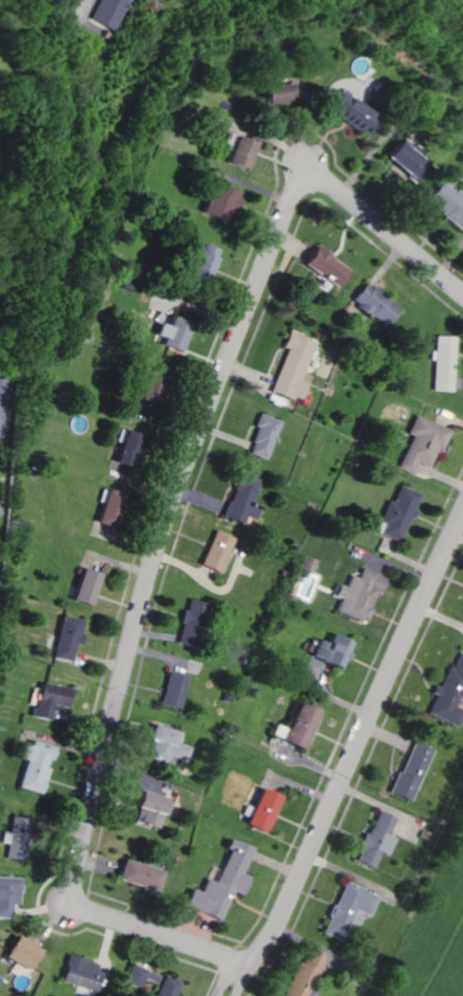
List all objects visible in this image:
building: (110, 13)
building: (274, 91)
building: (346, 110)
building: (240, 152)
building: (400, 159)
building: (220, 200)
building: (444, 203)
road: (399, 237)
building: (203, 261)
building: (323, 266)
building: (372, 304)
building: (171, 333)
building: (441, 362)
building: (291, 366)
building: (150, 383)
building: (263, 436)
building: (418, 443)
building: (125, 448)
building: (239, 497)
building: (106, 508)
building: (395, 513)
building: (213, 551)
building: (305, 564)
building: (83, 586)
building: (357, 594)
road: (139, 605)
building: (188, 620)
building: (64, 637)
building: (329, 651)
building: (169, 690)
building: (448, 693)
building: (47, 700)
building: (298, 726)
building: (163, 744)
road: (359, 744)
building: (34, 767)
building: (408, 771)
building: (150, 808)
building: (259, 810)
building: (10, 838)
building: (374, 839)
building: (139, 875)
building: (217, 883)
building: (8, 893)
building: (346, 908)
building: (18, 950)
building: (76, 973)
building: (301, 974)
building: (133, 975)
road: (227, 979)
road: (240, 982)
building: (162, 987)

